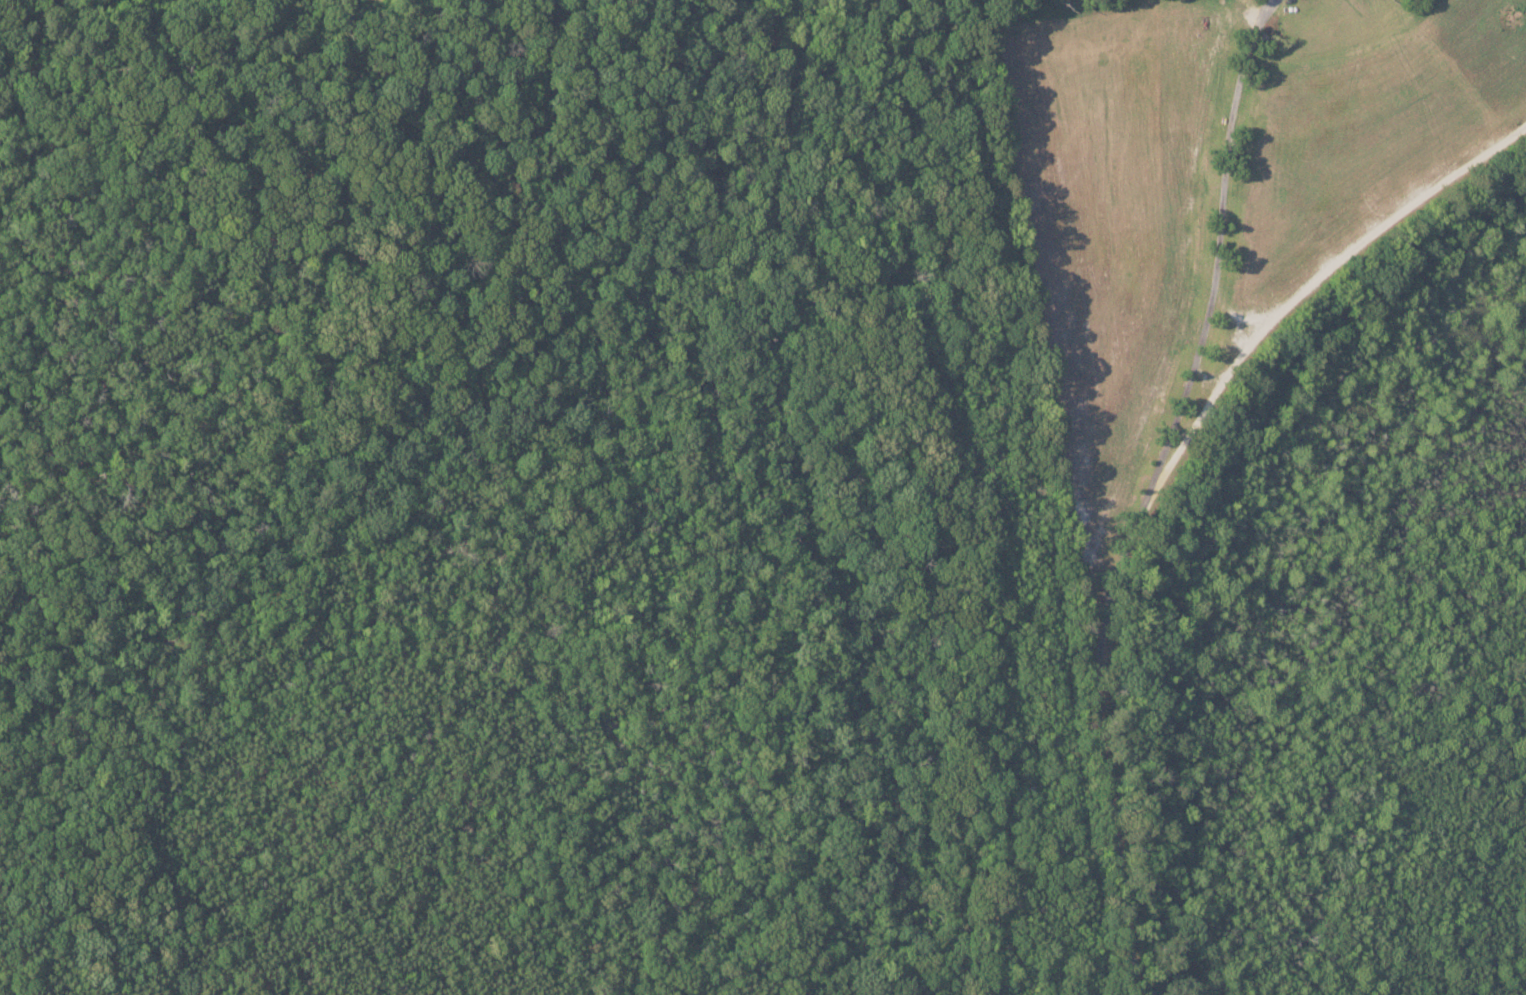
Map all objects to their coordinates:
road: (1312, 283)
road: (1147, 492)

